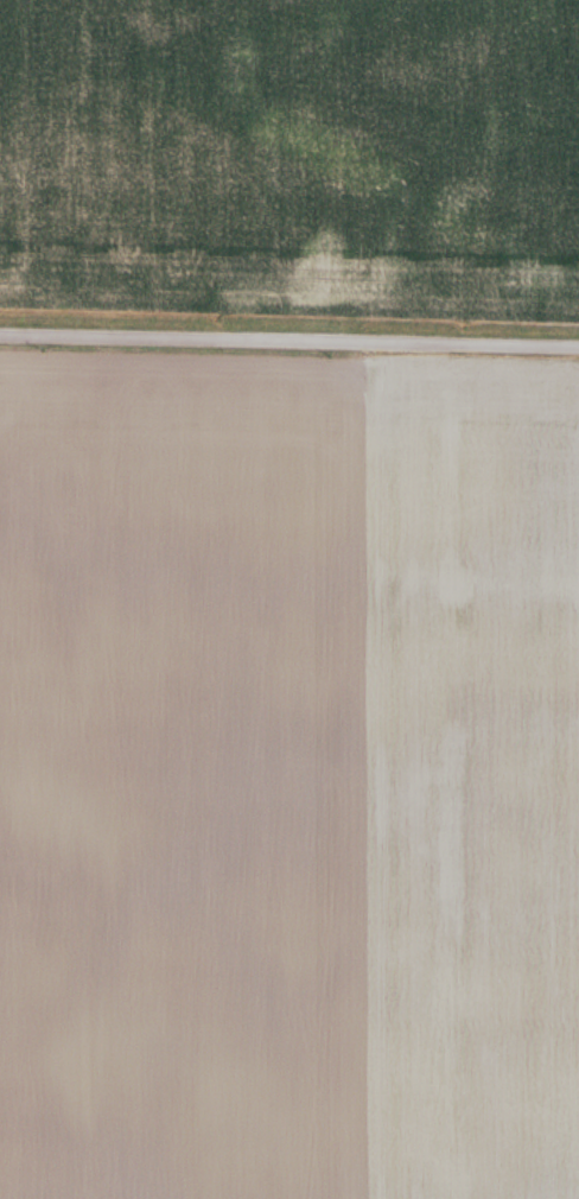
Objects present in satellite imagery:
road: (289, 332)

